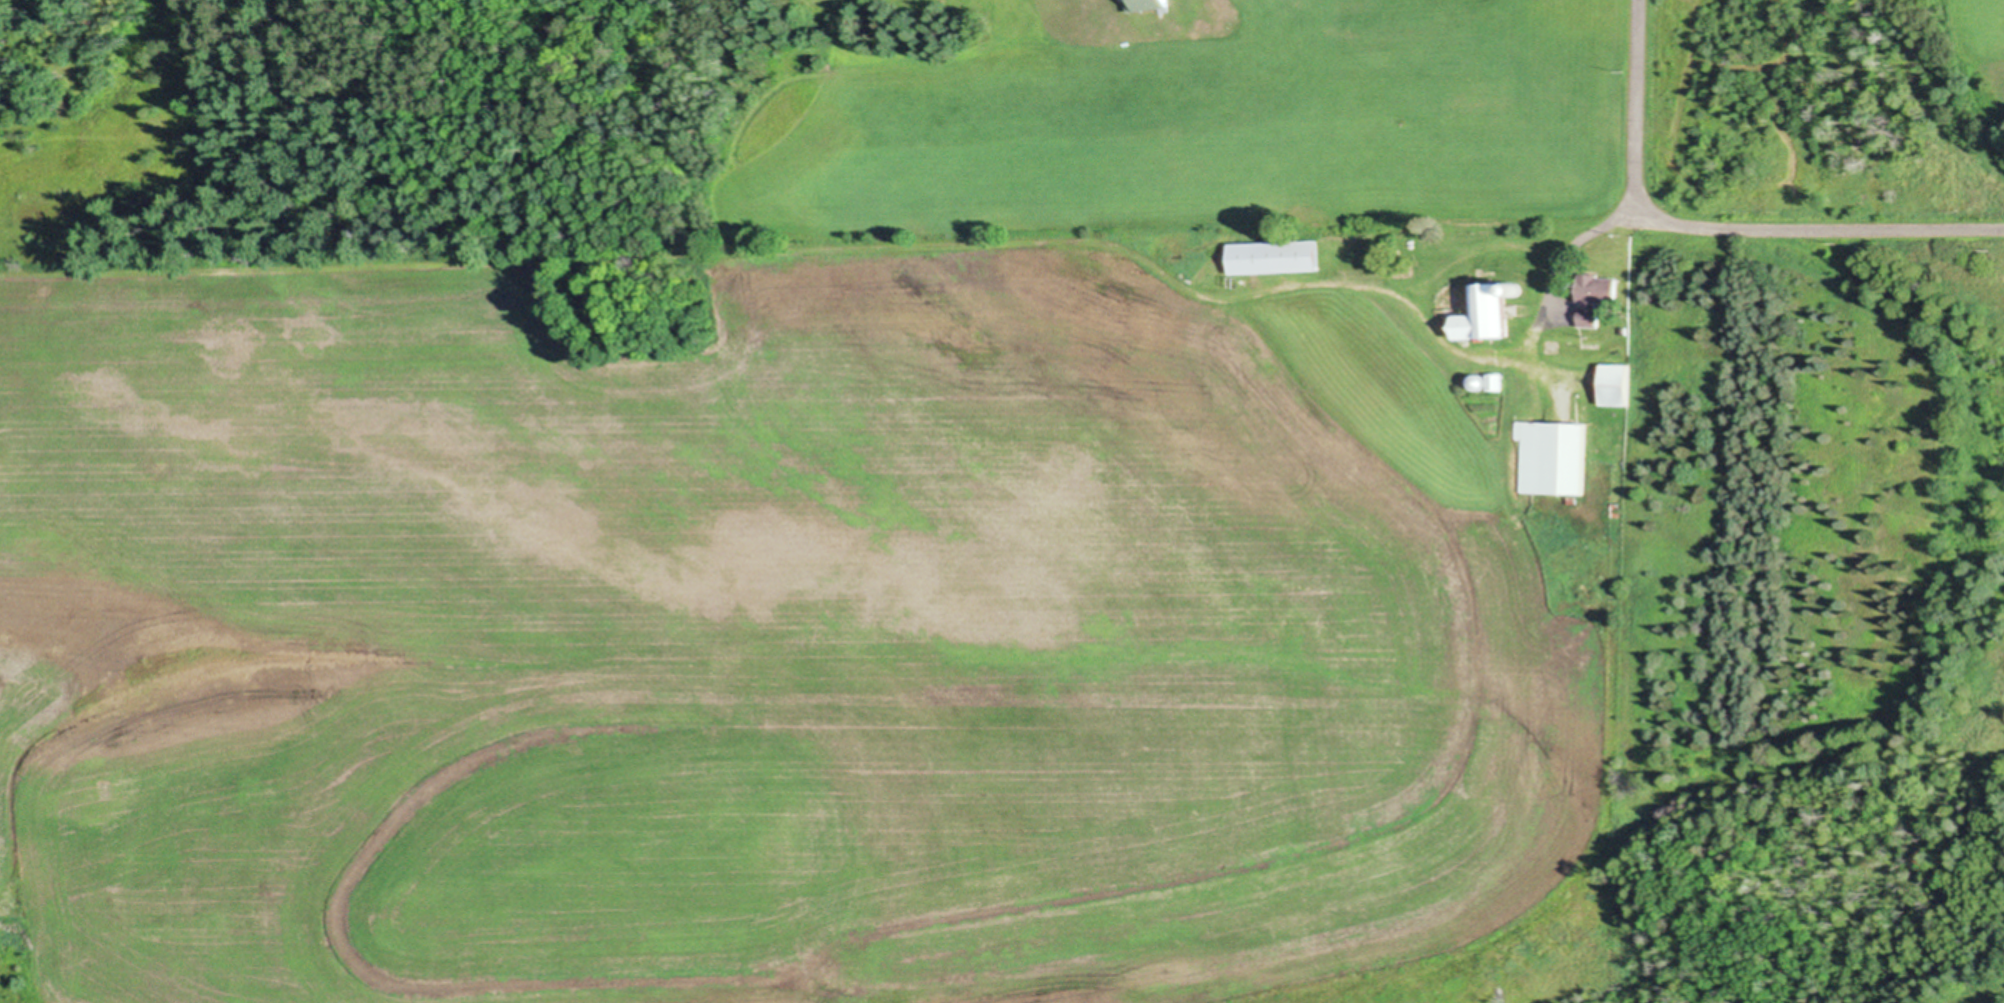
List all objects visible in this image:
road: (1715, 230)
road: (883, 251)

